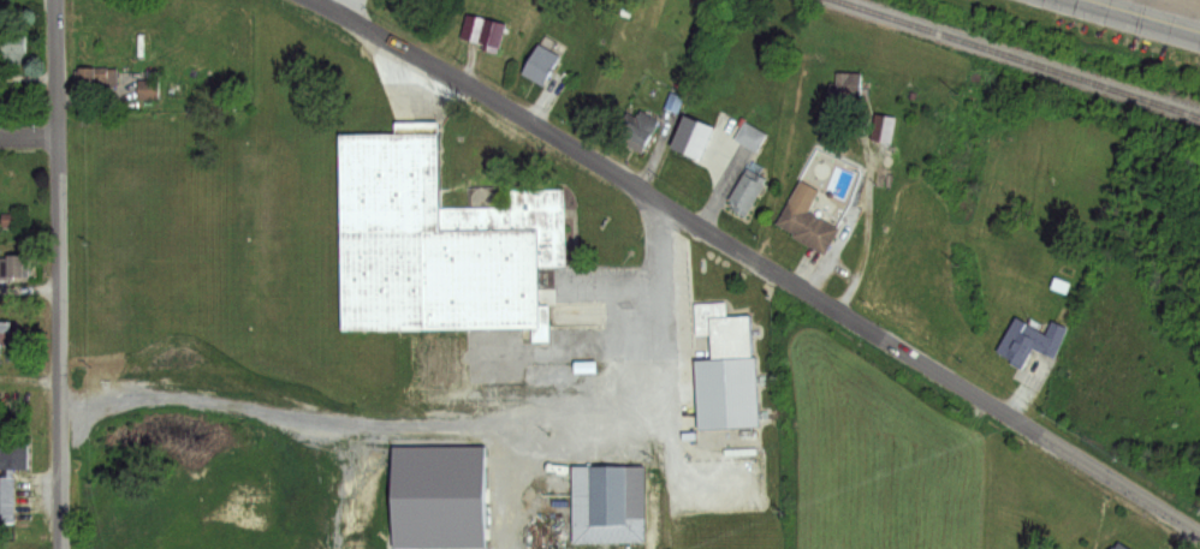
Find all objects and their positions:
road: (1093, 2)
road: (1137, 17)
building: (482, 34)
building: (16, 52)
railway: (1017, 58)
building: (541, 64)
building: (96, 78)
building: (844, 85)
building: (147, 89)
building: (642, 126)
building: (691, 133)
building: (750, 136)
road: (30, 138)
building: (10, 185)
road: (644, 192)
building: (743, 192)
building: (806, 216)
building: (5, 219)
building: (426, 235)
building: (18, 263)
road: (60, 274)
road: (30, 291)
building: (7, 336)
building: (1029, 336)
building: (726, 374)
road: (444, 426)
crop: (880, 450)
building: (13, 454)
road: (1087, 463)
building: (440, 494)
building: (5, 499)
building: (607, 505)
building: (1113, 545)
building: (1122, 545)

